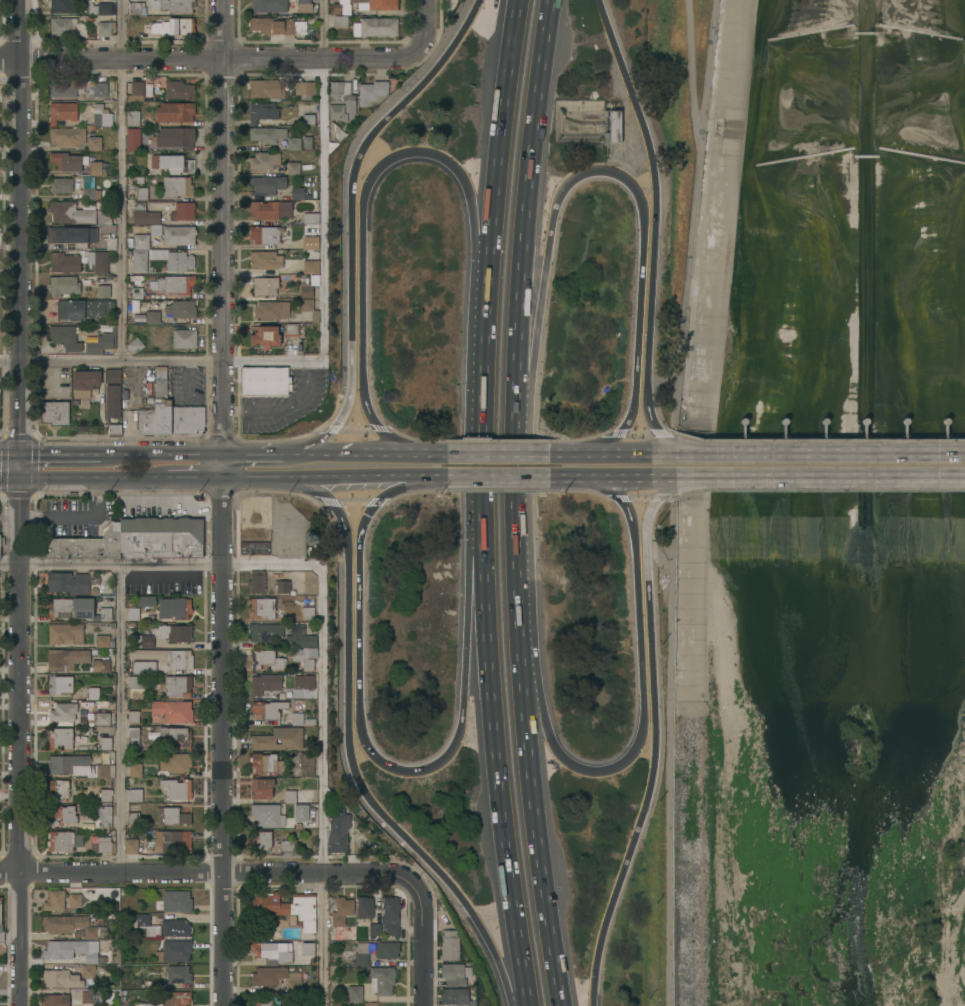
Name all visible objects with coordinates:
building: (62, 5)
building: (172, 5)
building: (268, 5)
building: (359, 5)
building: (304, 6)
building: (135, 7)
building: (100, 8)
building: (339, 21)
road: (424, 23)
building: (276, 25)
building: (174, 26)
building: (375, 26)
building: (66, 27)
building: (104, 28)
road: (211, 60)
building: (65, 87)
building: (269, 88)
building: (100, 89)
building: (178, 89)
building: (305, 89)
building: (135, 91)
building: (372, 92)
building: (341, 101)
building: (174, 111)
building: (261, 111)
building: (61, 112)
building: (102, 116)
building: (132, 118)
road: (503, 118)
building: (308, 119)
building: (615, 125)
building: (266, 134)
building: (334, 135)
building: (67, 136)
building: (174, 137)
building: (133, 139)
building: (94, 143)
building: (292, 143)
building: (307, 143)
building: (263, 160)
building: (67, 161)
building: (172, 163)
building: (95, 167)
building: (293, 168)
road: (118, 181)
road: (322, 181)
building: (61, 185)
building: (266, 185)
road: (527, 185)
building: (176, 186)
building: (89, 188)
building: (141, 193)
building: (297, 193)
building: (270, 209)
building: (182, 211)
building: (70, 212)
road: (658, 213)
building: (144, 214)
building: (104, 217)
building: (310, 218)
road: (349, 223)
road: (222, 227)
building: (178, 234)
building: (265, 234)
road: (362, 234)
building: (71, 235)
building: (140, 241)
building: (309, 243)
road: (641, 248)
building: (175, 259)
building: (264, 259)
building: (138, 260)
building: (64, 262)
building: (96, 262)
building: (310, 266)
building: (179, 284)
building: (63, 285)
building: (264, 285)
building: (308, 286)
building: (102, 291)
building: (137, 293)
building: (83, 309)
building: (180, 309)
building: (308, 309)
building: (270, 310)
road: (530, 313)
building: (152, 317)
building: (291, 329)
building: (264, 336)
building: (65, 337)
building: (184, 338)
building: (101, 343)
building: (134, 345)
road: (161, 362)
building: (111, 375)
building: (264, 381)
building: (84, 382)
road: (483, 395)
building: (112, 401)
building: (162, 402)
road: (283, 409)
building: (53, 413)
building: (186, 419)
building: (145, 421)
traffic signals: (16, 429)
building: (114, 430)
road: (18, 438)
road: (672, 445)
road: (8, 453)
traffic signals: (41, 453)
road: (58, 453)
road: (161, 453)
road: (252, 454)
road: (321, 454)
road: (380, 454)
road: (575, 454)
road: (423, 455)
road: (498, 455)
road: (626, 455)
road: (668, 456)
road: (825, 456)
road: (220, 465)
road: (2, 467)
road: (34, 467)
road: (497, 473)
road: (576, 473)
road: (627, 473)
road: (666, 473)
road: (823, 473)
road: (424, 474)
road: (357, 475)
road: (8, 476)
road: (91, 476)
road: (193, 476)
road: (265, 476)
road: (669, 485)
road: (17, 497)
traffic signals: (16, 502)
road: (676, 502)
road: (16, 503)
river: (862, 503)
road: (74, 516)
building: (160, 537)
building: (2, 541)
road: (518, 542)
building: (84, 545)
building: (253, 548)
building: (257, 581)
building: (71, 582)
building: (282, 586)
building: (146, 601)
building: (262, 607)
building: (78, 608)
building: (173, 608)
building: (307, 613)
building: (139, 614)
road: (319, 624)
road: (474, 625)
building: (264, 631)
building: (173, 632)
building: (68, 633)
building: (301, 637)
building: (102, 641)
building: (143, 641)
building: (165, 657)
building: (305, 657)
building: (66, 658)
building: (266, 659)
road: (639, 661)
building: (100, 665)
building: (143, 667)
road: (358, 680)
building: (305, 683)
building: (59, 684)
building: (265, 684)
building: (177, 685)
building: (135, 687)
building: (93, 693)
building: (173, 711)
building: (63, 712)
building: (282, 712)
road: (119, 714)
building: (133, 716)
building: (102, 718)
road: (535, 724)
building: (172, 735)
building: (60, 737)
building: (276, 737)
road: (348, 737)
building: (133, 738)
road: (218, 741)
building: (105, 743)
road: (652, 754)
building: (305, 762)
building: (174, 763)
building: (266, 763)
building: (70, 764)
building: (104, 770)
building: (135, 770)
road: (502, 780)
building: (261, 788)
building: (58, 789)
building: (176, 789)
building: (105, 794)
building: (135, 795)
building: (289, 797)
building: (63, 813)
building: (301, 813)
building: (267, 815)
building: (171, 817)
building: (133, 818)
building: (98, 819)
building: (338, 833)
building: (60, 841)
building: (161, 842)
building: (268, 842)
building: (102, 845)
road: (542, 858)
road: (204, 866)
building: (109, 897)
building: (54, 900)
building: (75, 900)
building: (176, 901)
building: (287, 908)
building: (364, 908)
building: (390, 916)
building: (341, 920)
building: (63, 922)
building: (1, 924)
building: (147, 925)
building: (175, 928)
building: (93, 931)
building: (374, 932)
road: (421, 939)
building: (449, 944)
building: (307, 949)
building: (68, 950)
building: (176, 950)
building: (387, 950)
building: (272, 952)
building: (362, 953)
building: (455, 973)
building: (178, 974)
building: (70, 977)
building: (273, 977)
building: (382, 980)
road: (503, 982)
building: (355, 994)
building: (92, 996)
building: (456, 997)
building: (177, 998)
building: (56, 999)
building: (264, 1001)
building: (148, 1004)

